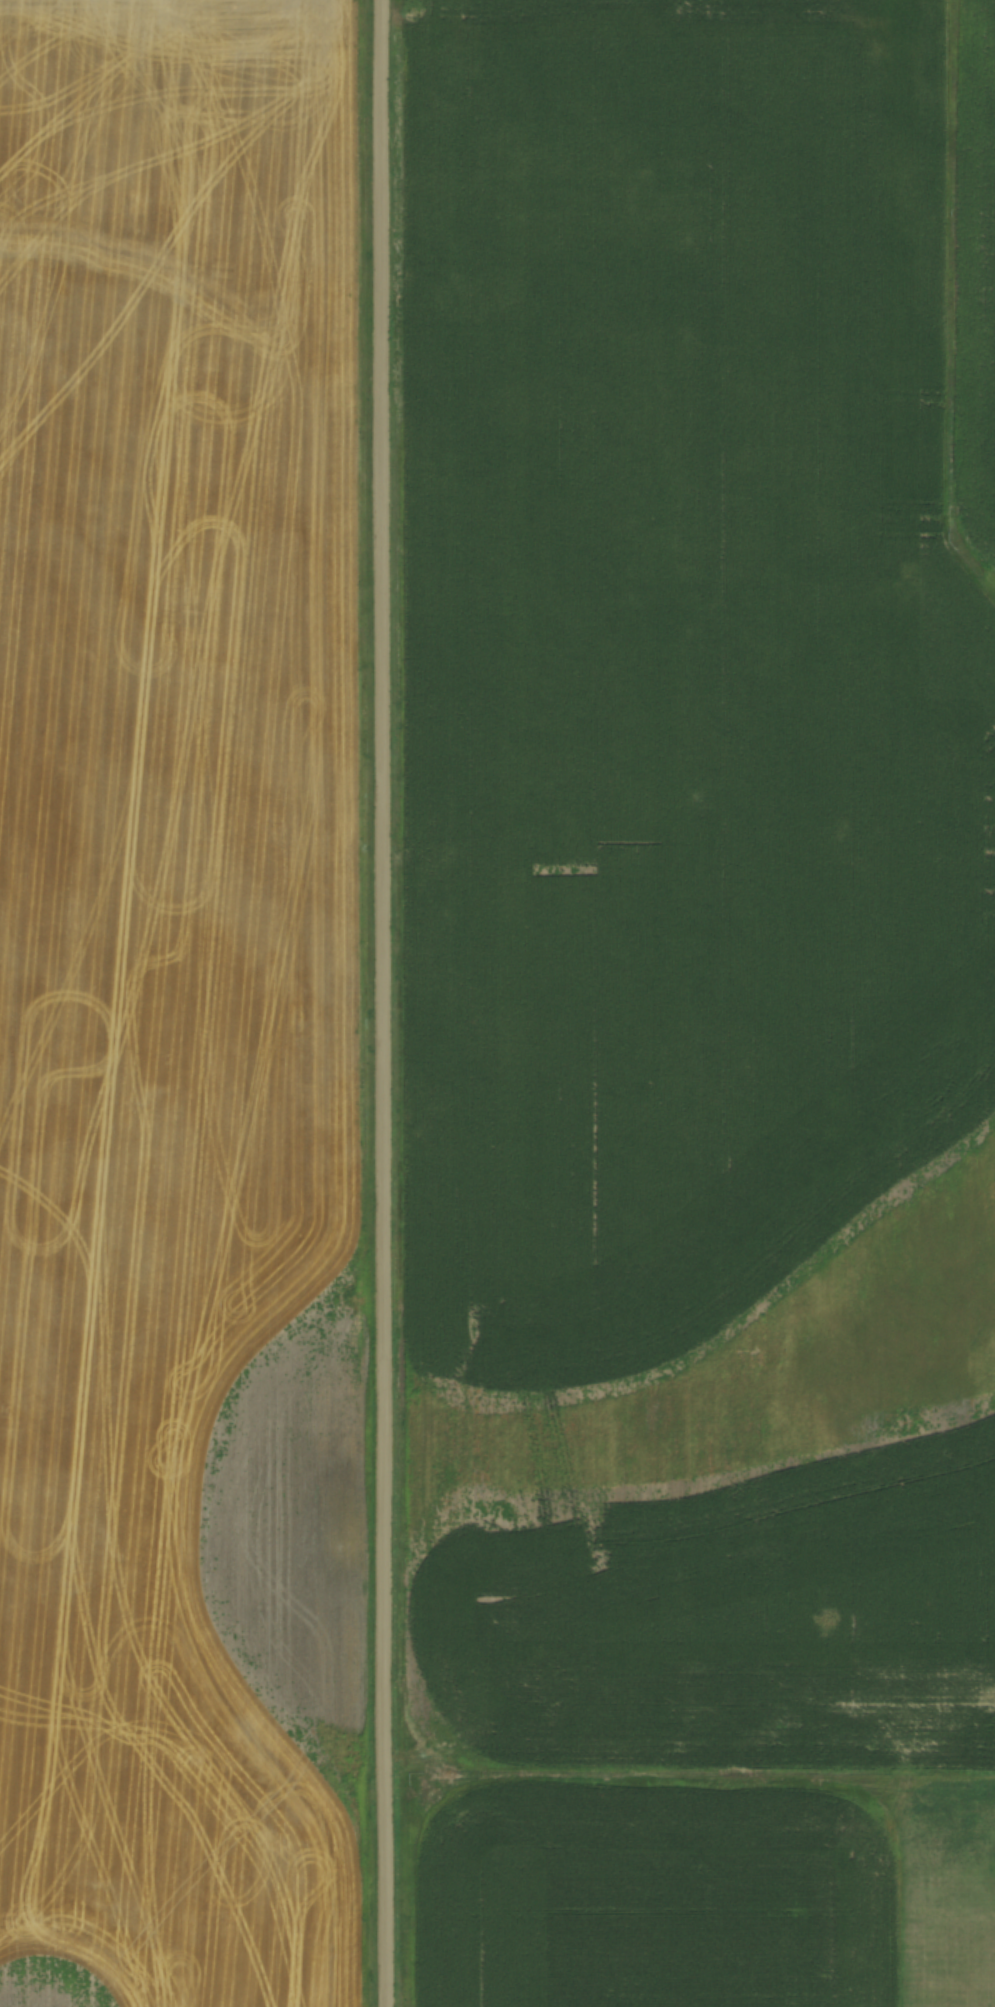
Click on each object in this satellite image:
road: (389, 1003)
crop: (175, 1004)
airport: (943, 1893)

